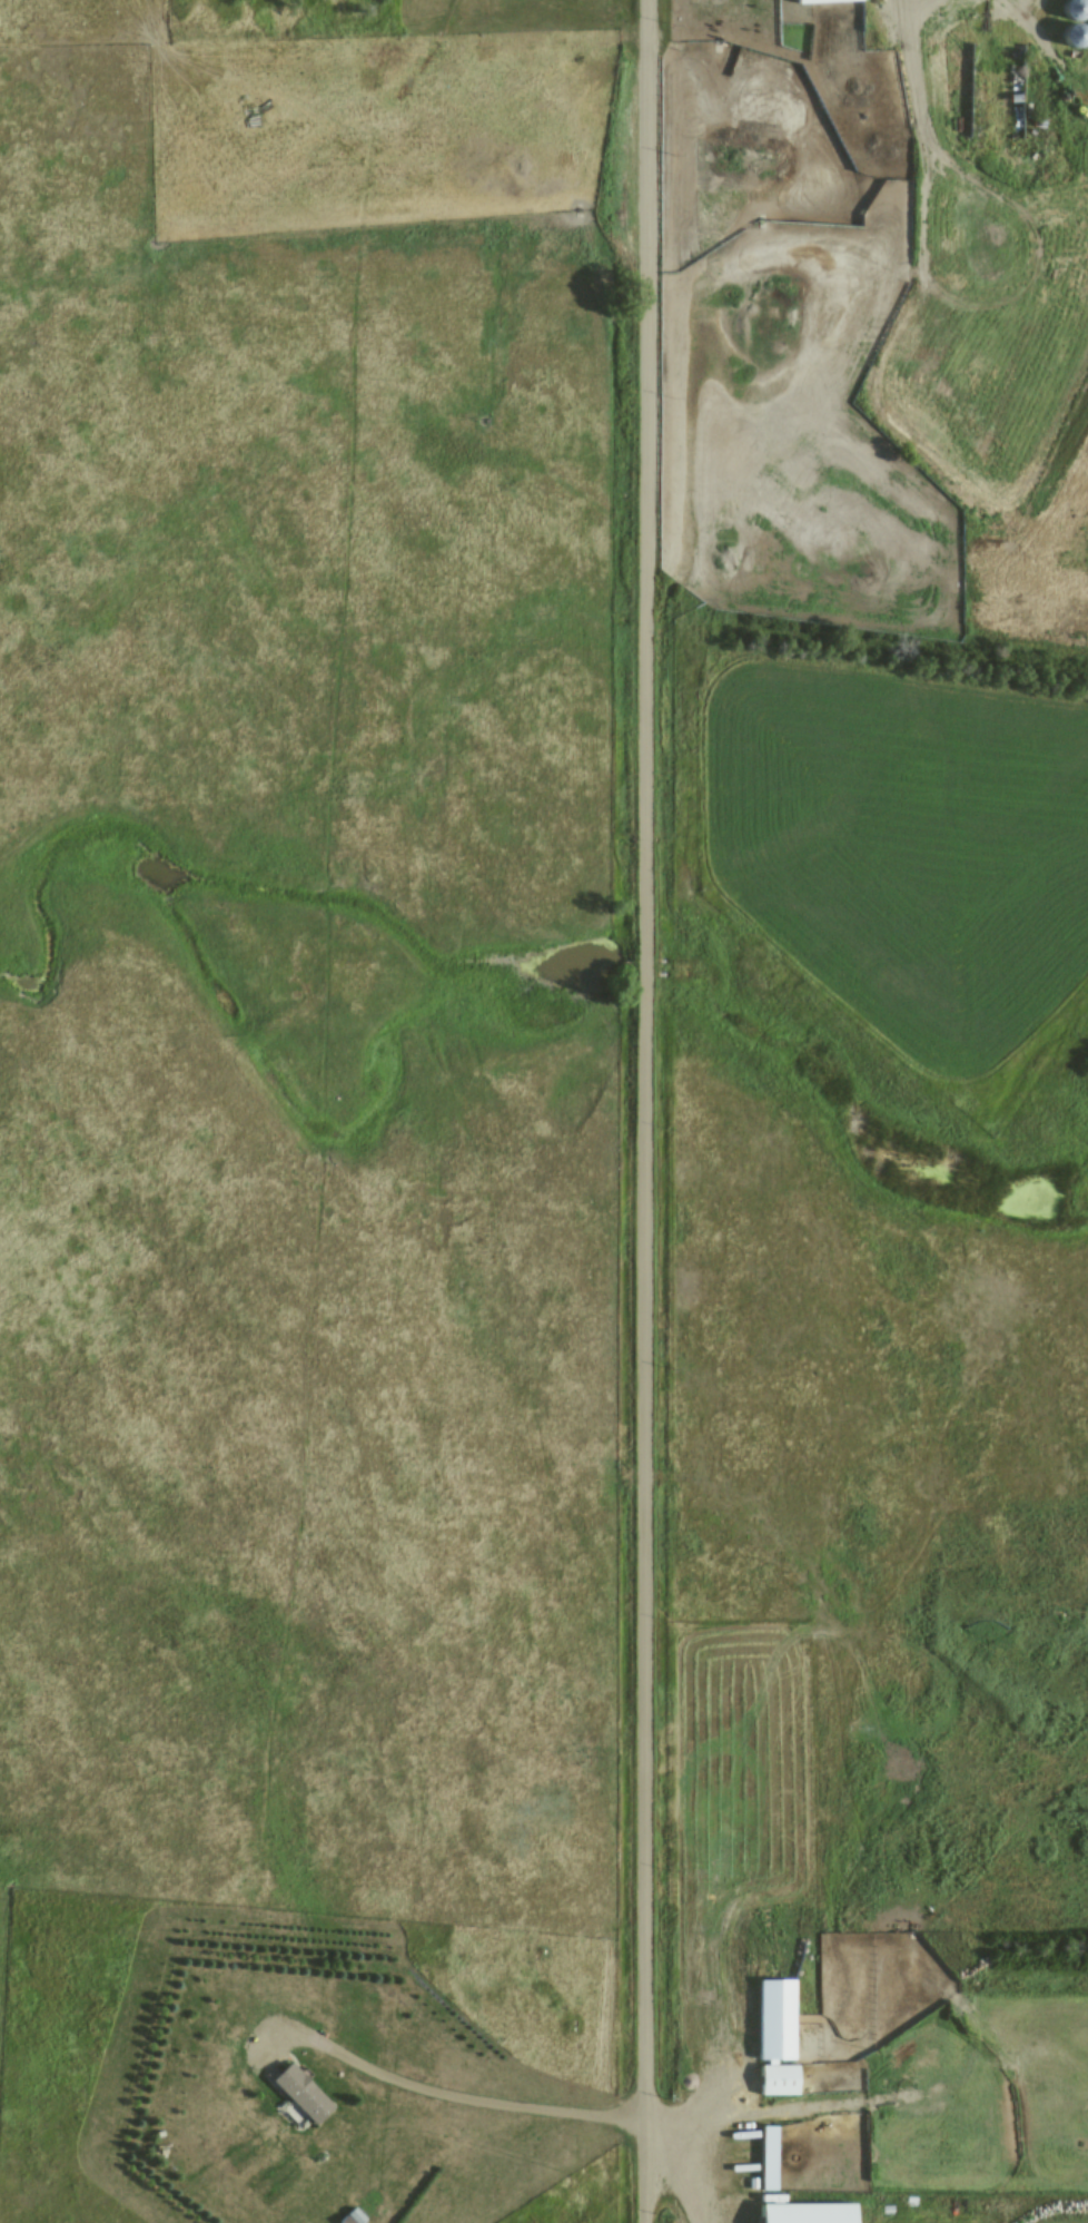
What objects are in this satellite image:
building: (823, 1)
building: (1071, 9)
building: (1069, 35)
road: (649, 1111)
building: (772, 2039)
building: (298, 2094)
building: (782, 2161)
building: (801, 2213)

